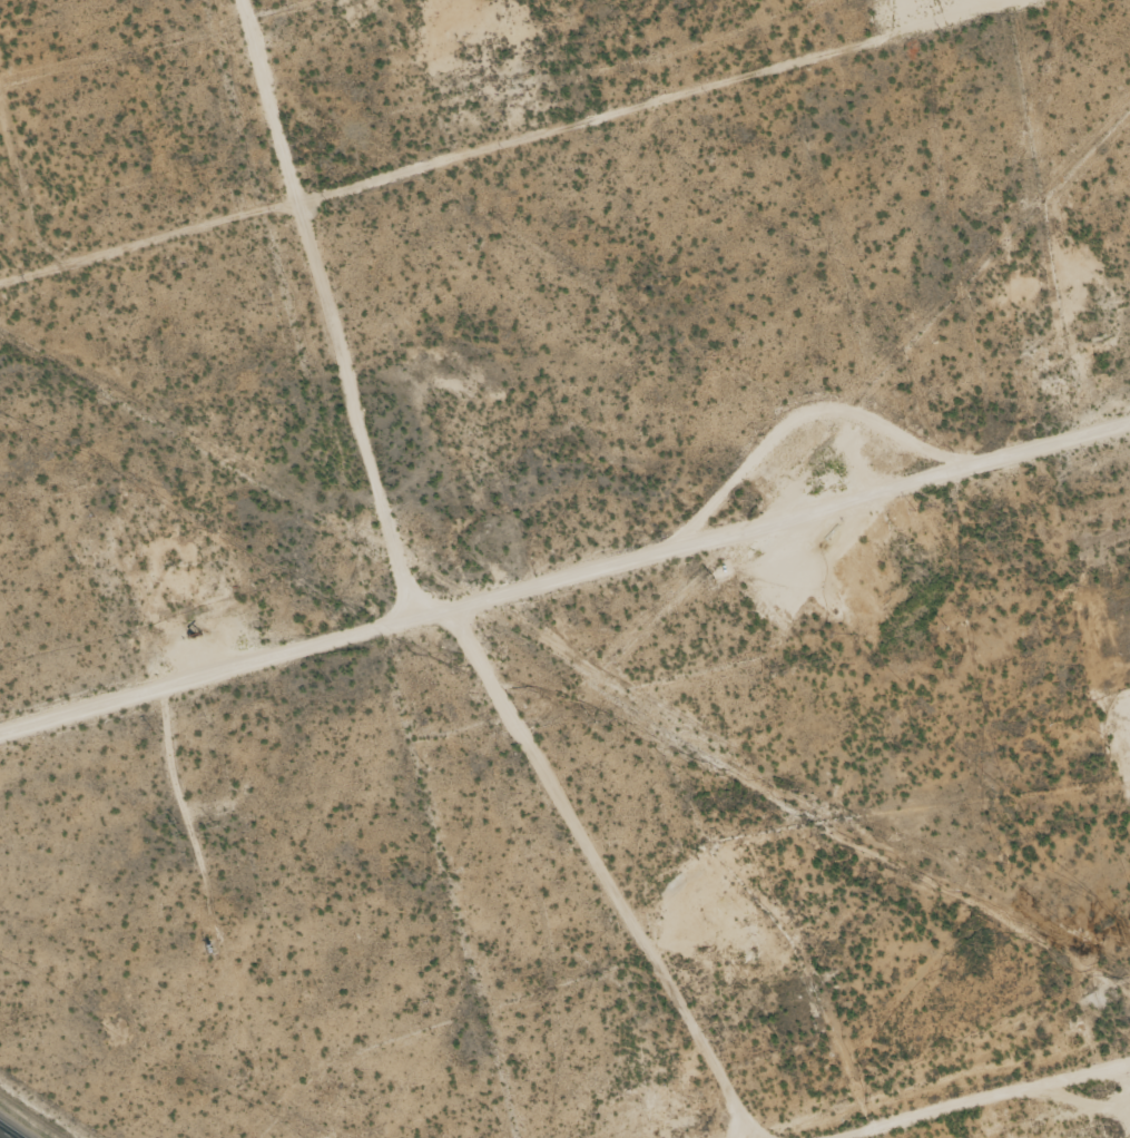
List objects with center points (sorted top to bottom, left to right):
road: (298, 308)
road: (563, 582)
road: (578, 873)
road: (1040, 1116)
road: (6, 1134)

